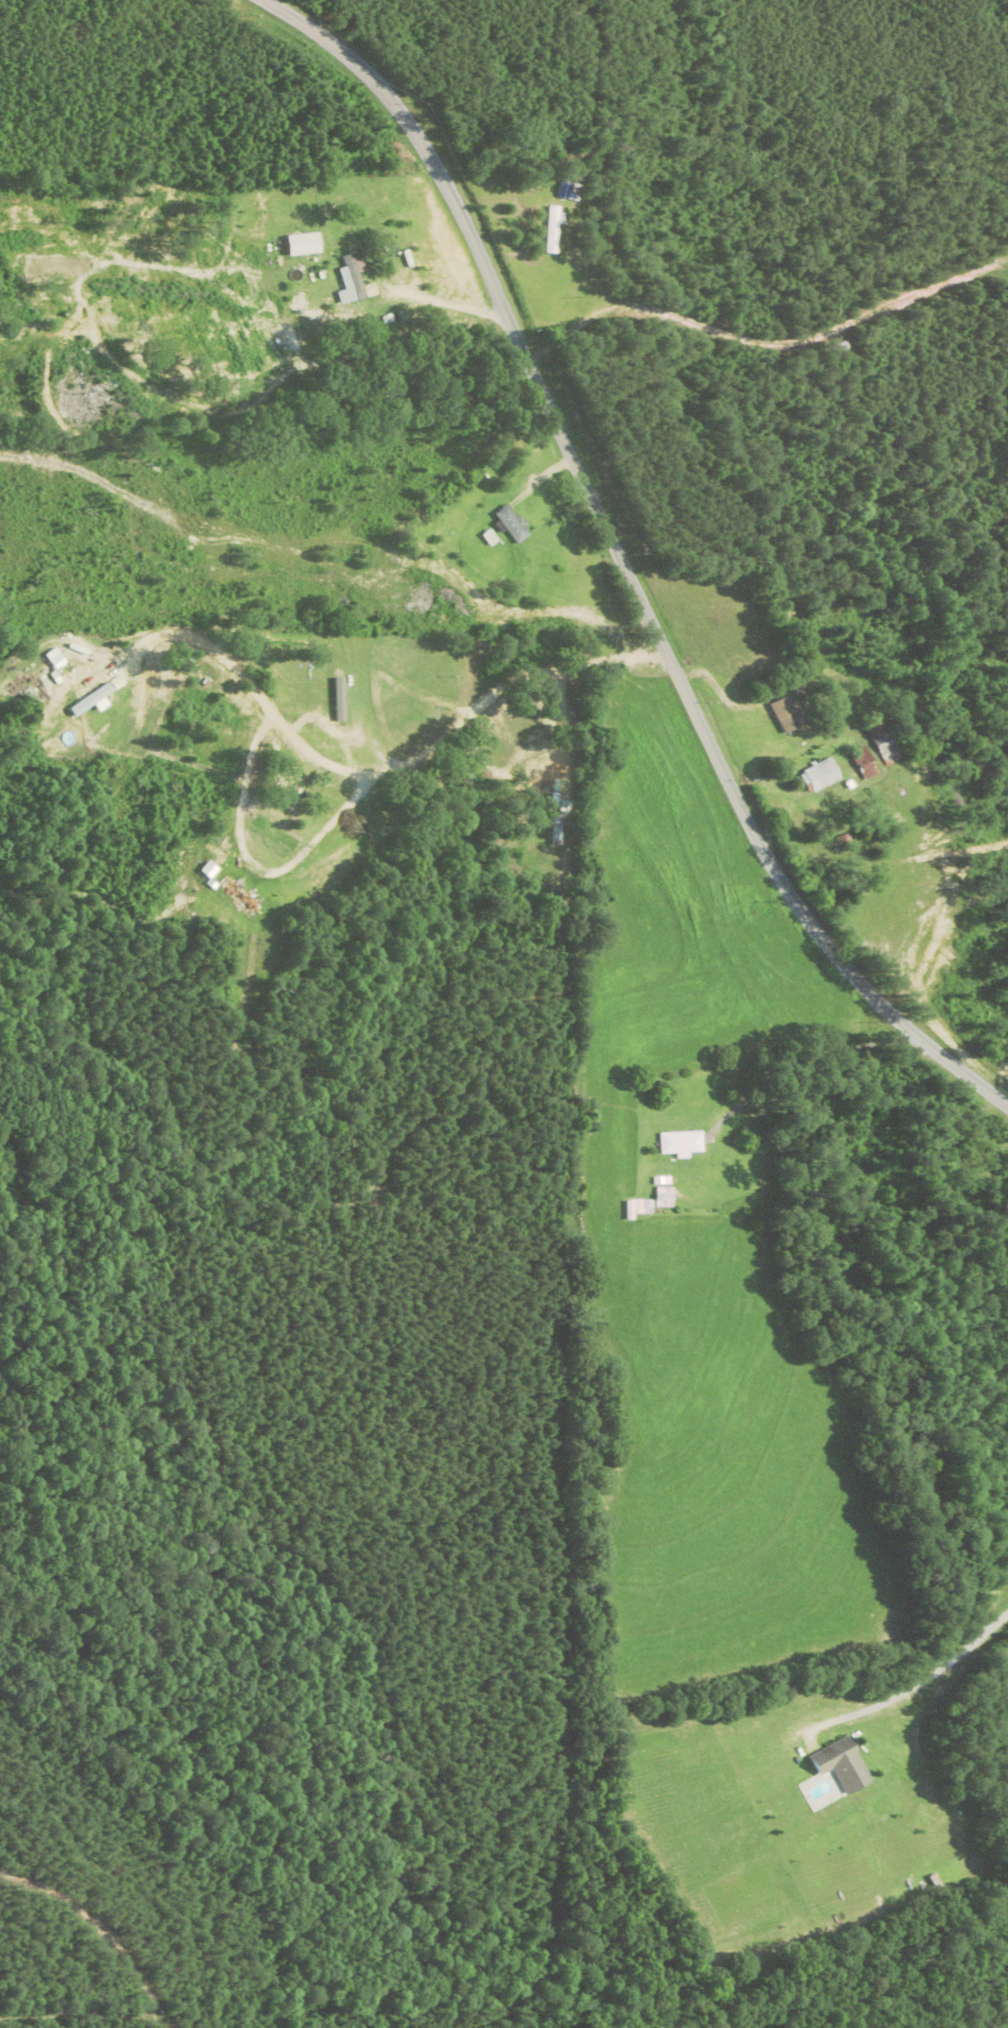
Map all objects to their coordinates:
building: (569, 191)
building: (553, 229)
building: (352, 280)
road: (448, 300)
building: (512, 524)
road: (620, 563)
building: (788, 715)
building: (880, 734)
road: (376, 770)
building: (821, 775)
building: (681, 1143)
building: (665, 1197)
building: (635, 1208)
road: (921, 1683)
building: (843, 1765)
road: (88, 1956)

